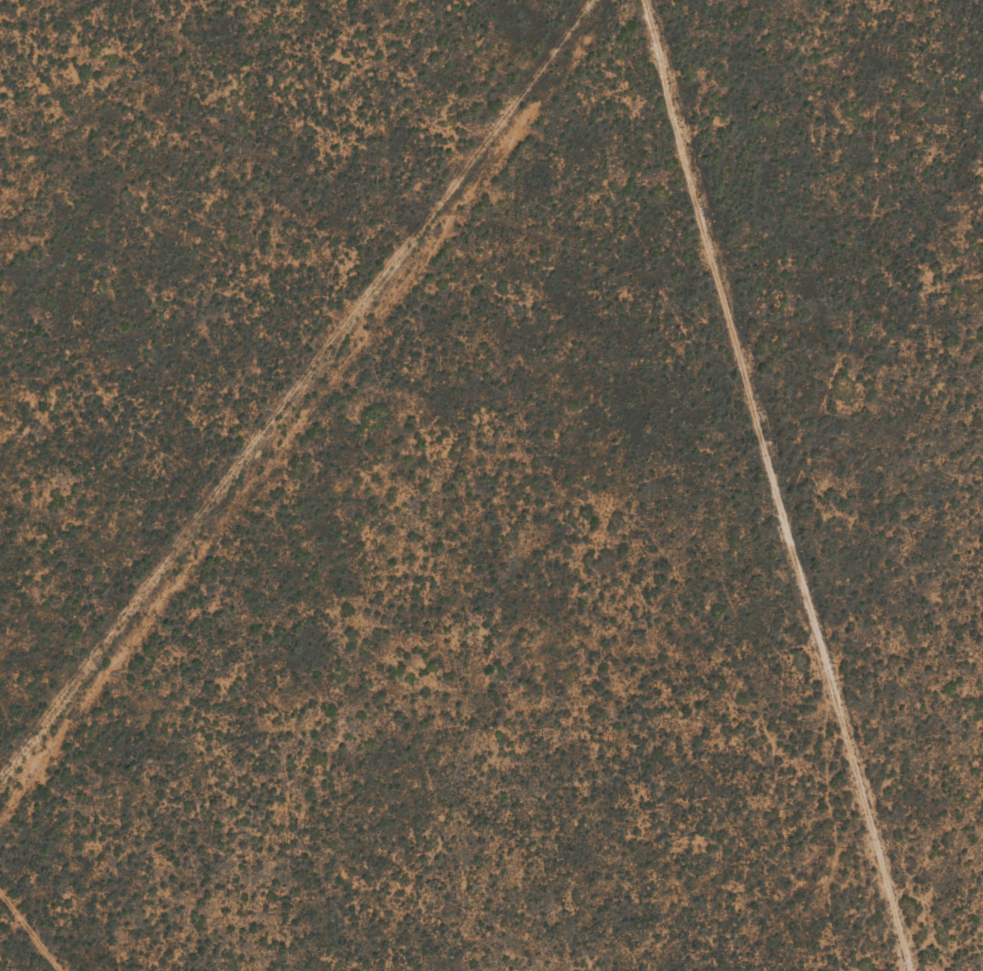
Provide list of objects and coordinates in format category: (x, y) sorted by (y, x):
road: (807, 485)

